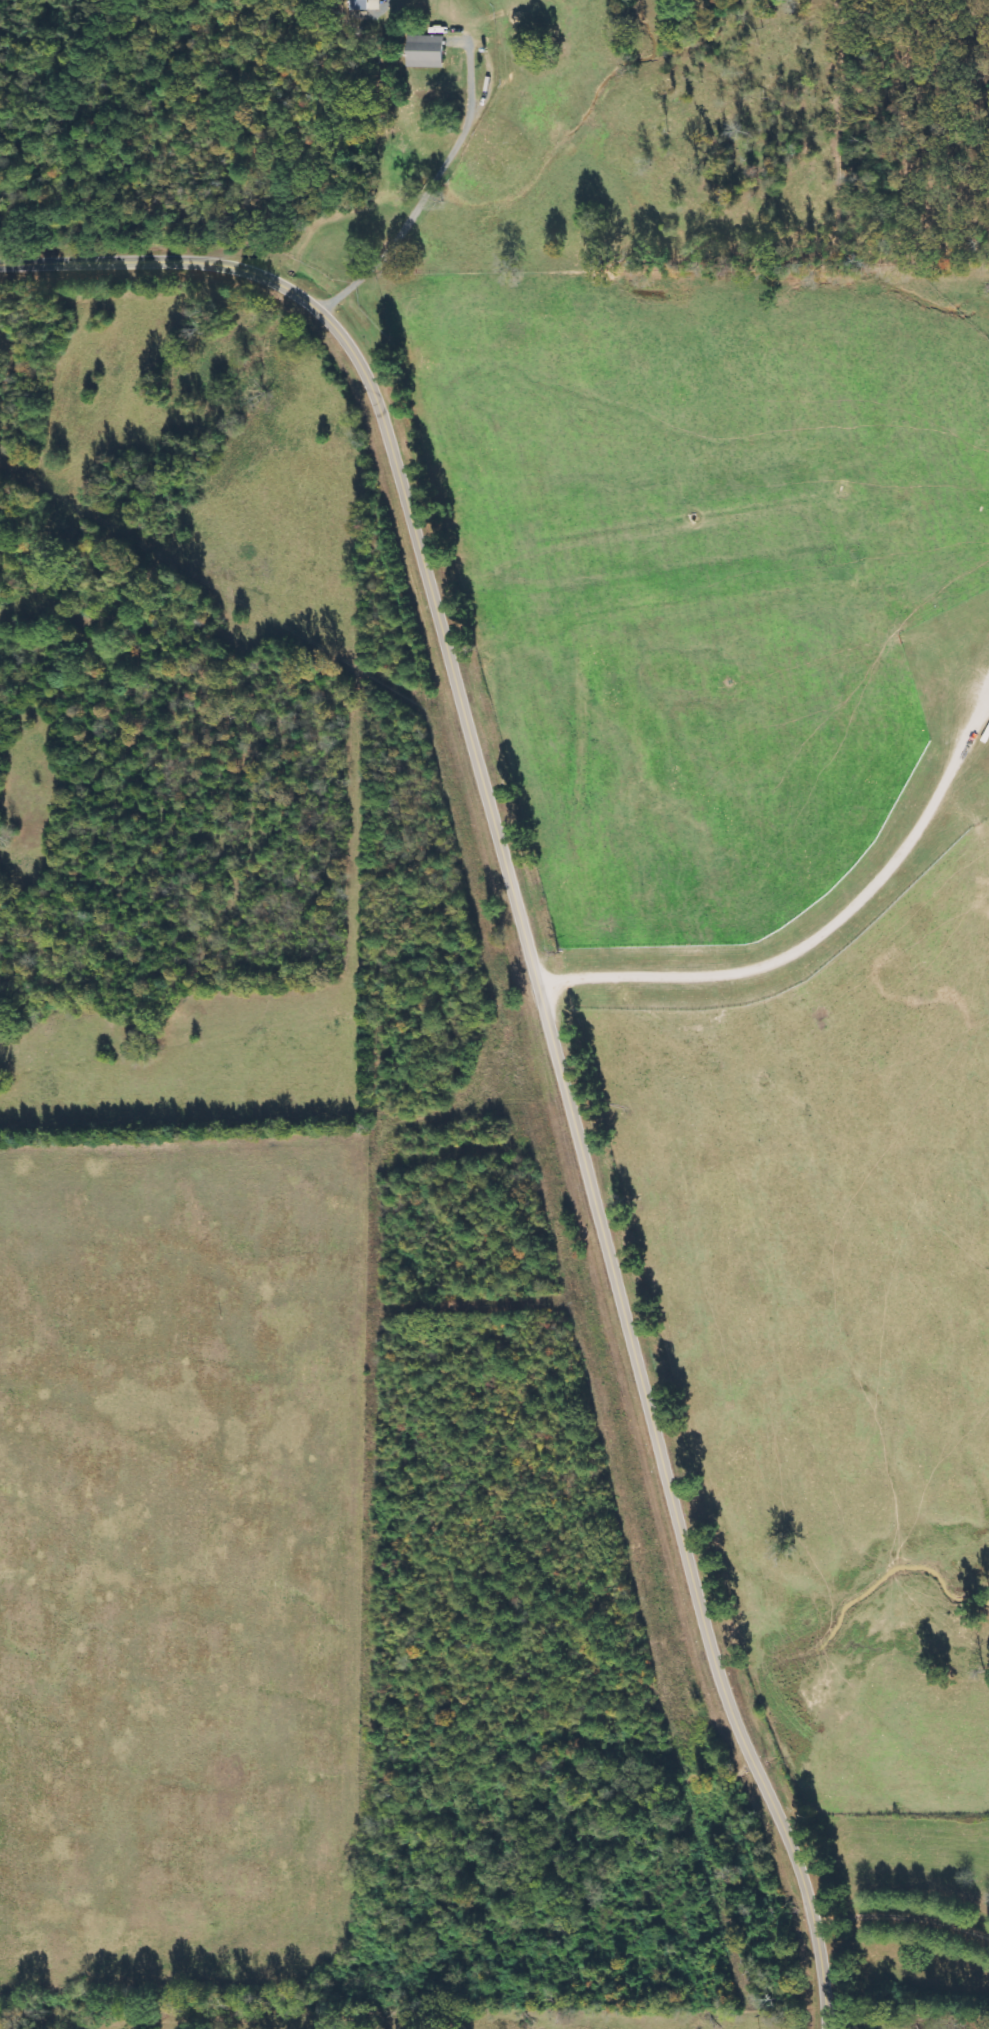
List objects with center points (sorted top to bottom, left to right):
building: (358, 5)
building: (424, 51)
road: (545, 1004)

